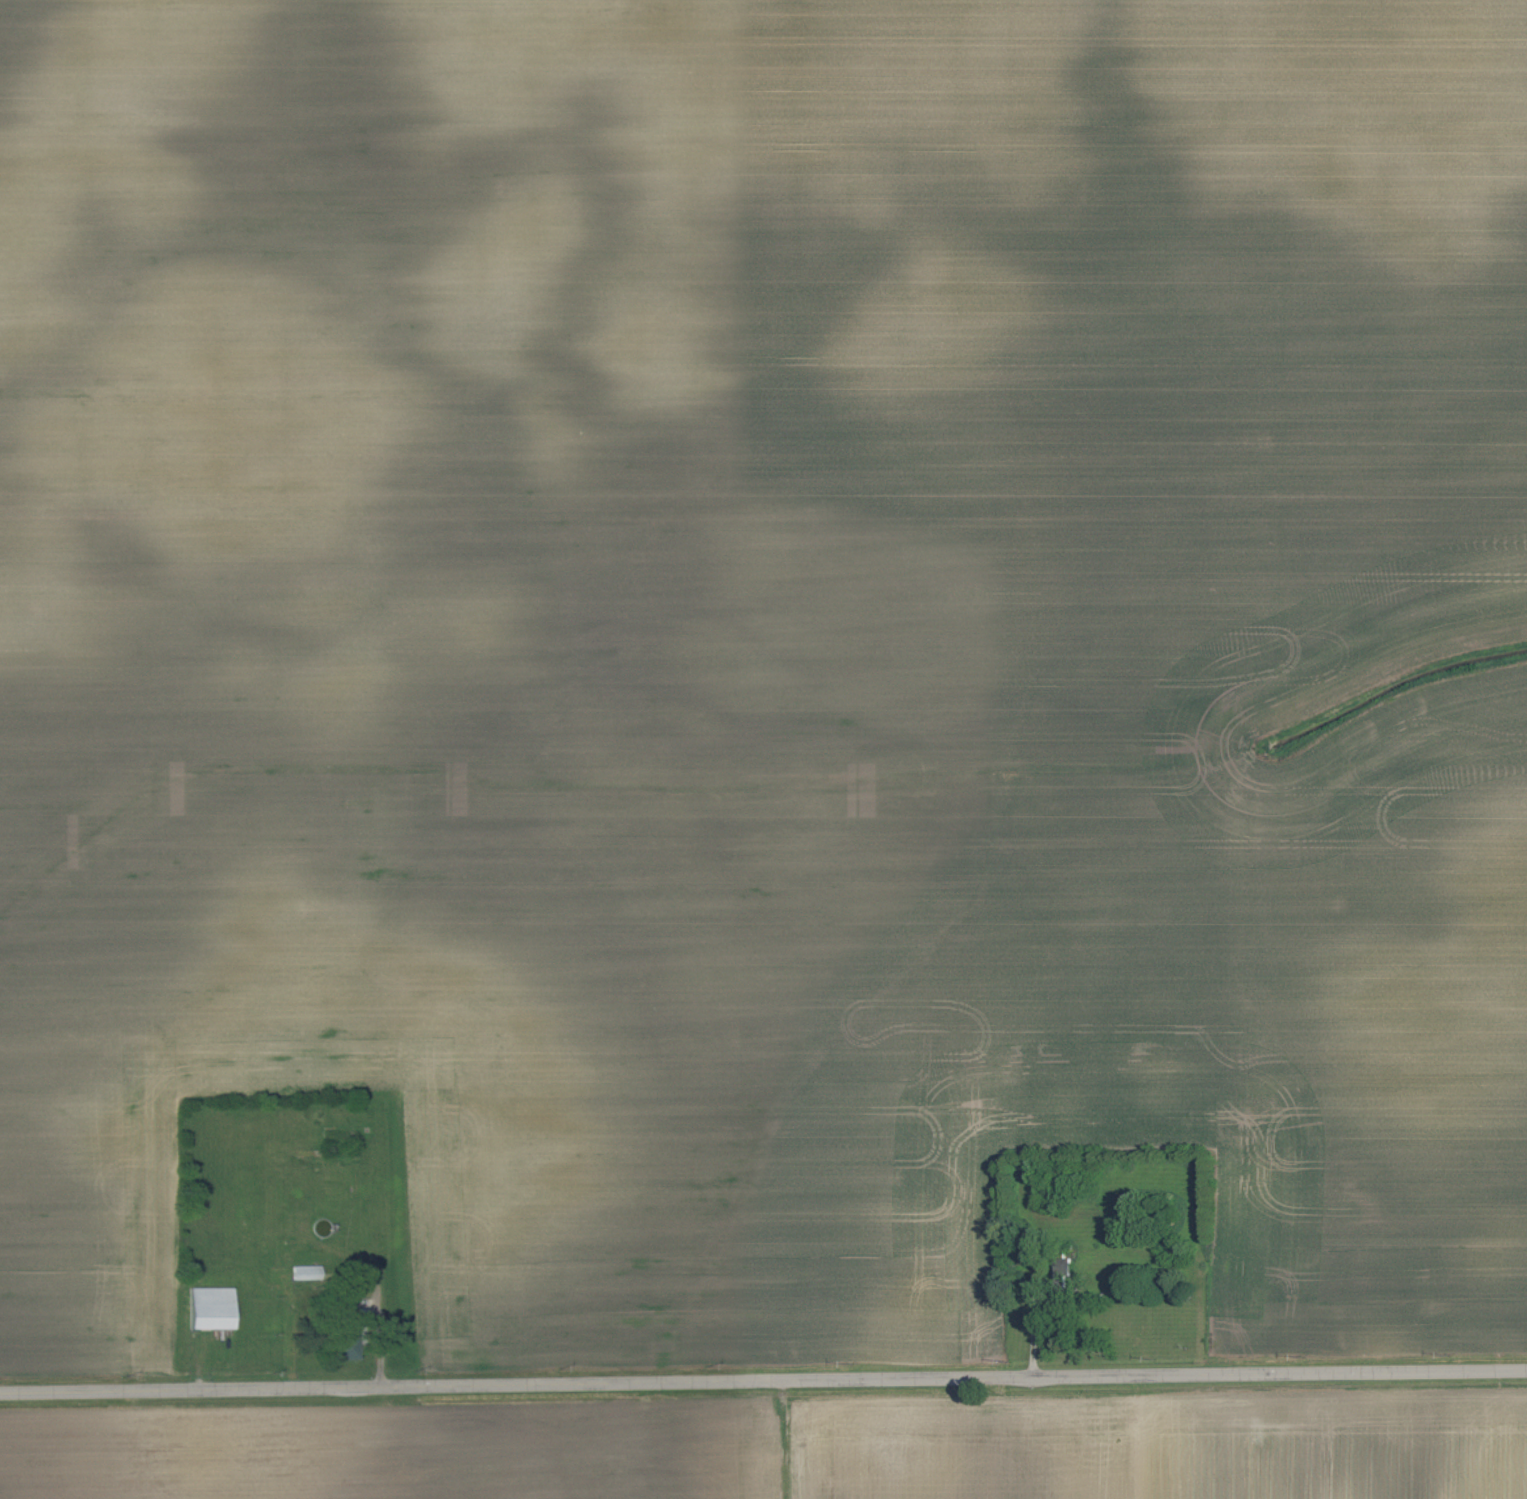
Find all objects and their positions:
building: (306, 1272)
building: (211, 1308)
road: (1036, 1324)
building: (346, 1348)
road: (763, 1381)

